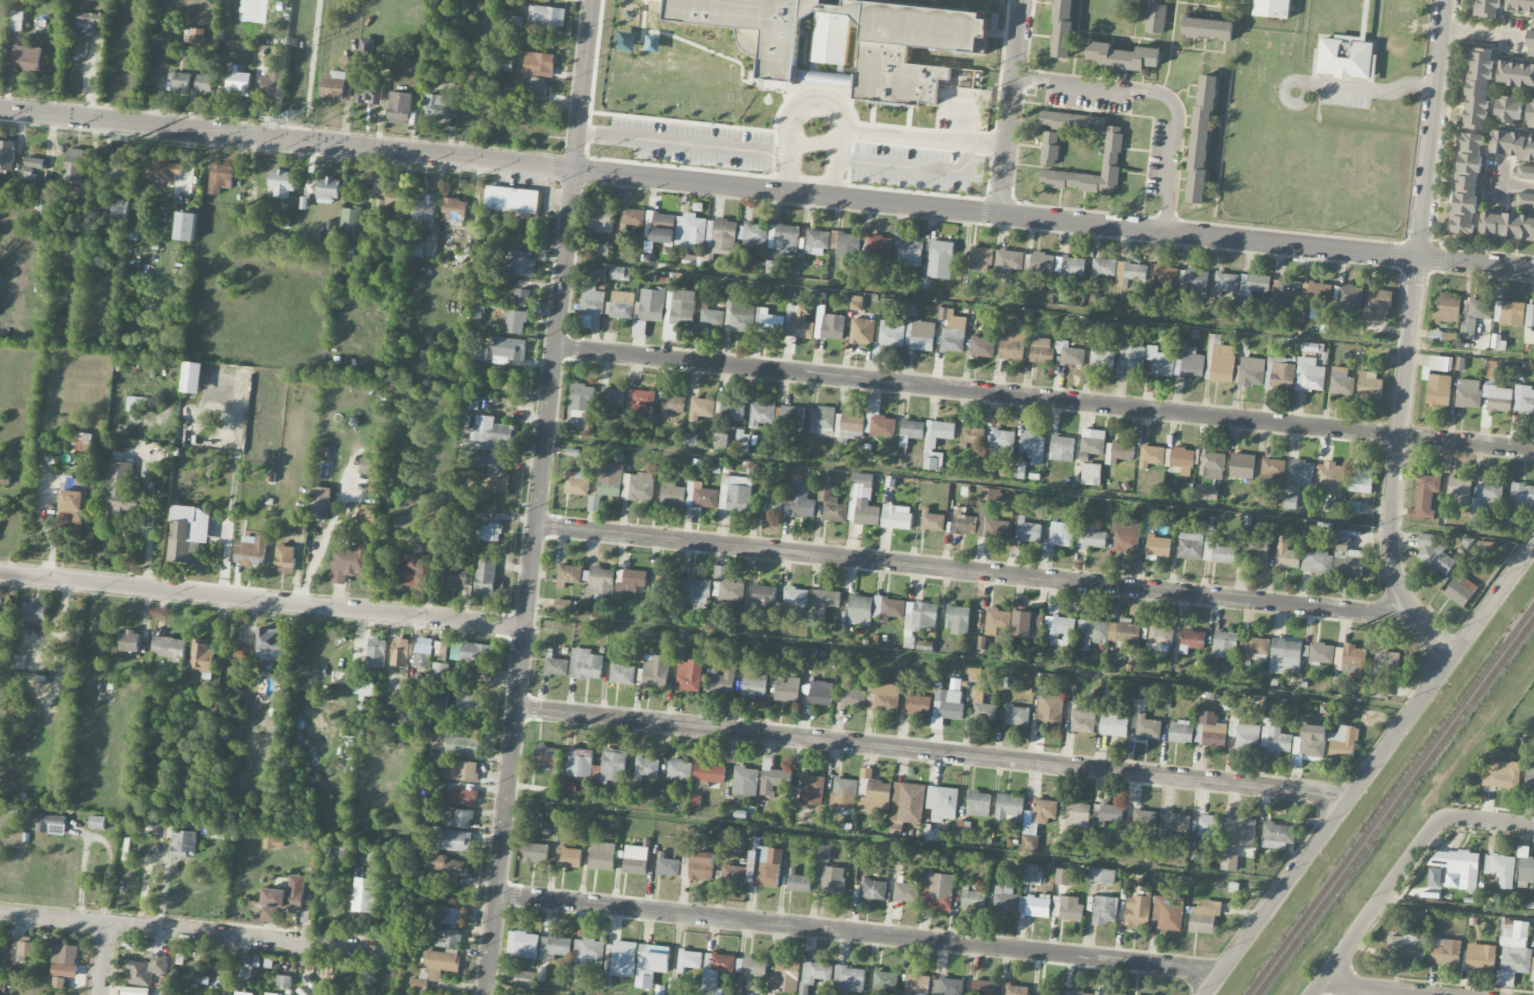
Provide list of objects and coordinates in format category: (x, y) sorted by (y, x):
building: (1520, 5)
building: (1273, 8)
building: (1488, 8)
building: (547, 16)
building: (1154, 16)
building: (91, 19)
building: (17, 20)
building: (1207, 28)
building: (1063, 29)
road: (1477, 32)
building: (194, 35)
building: (1531, 40)
building: (844, 42)
building: (80, 43)
road: (1171, 47)
building: (1121, 56)
building: (27, 58)
building: (1345, 58)
building: (505, 63)
building: (539, 64)
building: (1516, 74)
building: (368, 76)
building: (966, 78)
road: (1294, 79)
building: (179, 80)
building: (340, 81)
building: (238, 82)
building: (204, 83)
building: (272, 85)
building: (535, 88)
building: (1478, 88)
road: (1371, 89)
road: (1158, 93)
building: (441, 105)
road: (819, 106)
road: (1008, 106)
building: (400, 108)
building: (1507, 110)
building: (1530, 113)
power tower: (295, 115)
building: (1072, 121)
road: (888, 134)
power tower: (134, 138)
building: (1202, 139)
road: (685, 142)
road: (814, 142)
road: (971, 142)
building: (1513, 146)
building: (1050, 148)
building: (1112, 148)
building: (7, 155)
building: (75, 164)
road: (897, 165)
building: (32, 166)
building: (117, 168)
building: (162, 170)
building: (1525, 172)
building: (220, 177)
building: (282, 182)
building: (1468, 183)
road: (1532, 186)
building: (328, 189)
road: (766, 189)
building: (88, 193)
building: (43, 198)
building: (1525, 200)
building: (513, 201)
building: (392, 205)
building: (120, 208)
building: (424, 211)
building: (454, 211)
building: (633, 216)
building: (603, 219)
building: (150, 221)
building: (351, 221)
building: (186, 226)
building: (1507, 226)
building: (690, 231)
building: (754, 234)
building: (722, 235)
building: (784, 238)
building: (817, 242)
building: (848, 244)
building: (879, 246)
building: (602, 248)
building: (415, 250)
building: (347, 251)
building: (910, 253)
building: (980, 258)
building: (940, 259)
building: (1022, 261)
building: (521, 262)
building: (1073, 266)
building: (773, 267)
building: (1104, 267)
building: (620, 273)
building: (1134, 275)
building: (1166, 277)
building: (1193, 282)
building: (1225, 283)
building: (1254, 284)
building: (1288, 292)
building: (1319, 294)
building: (1347, 296)
building: (521, 297)
building: (856, 302)
building: (652, 304)
building: (622, 305)
building: (1377, 305)
road: (1411, 307)
building: (591, 308)
building: (1447, 308)
building: (477, 312)
building: (679, 313)
building: (1512, 313)
building: (711, 316)
building: (740, 316)
building: (1474, 316)
building: (515, 321)
building: (770, 322)
building: (797, 322)
building: (829, 325)
building: (1529, 325)
building: (639, 328)
building: (952, 330)
building: (862, 331)
building: (892, 332)
building: (921, 335)
building: (1441, 337)
building: (1012, 345)
building: (982, 347)
building: (510, 348)
building: (1055, 352)
road: (1471, 352)
building: (478, 354)
building: (1131, 358)
building: (1101, 359)
building: (1219, 361)
building: (1160, 362)
building: (1192, 363)
building: (1440, 363)
building: (1251, 372)
building: (1280, 374)
building: (1309, 375)
building: (193, 377)
building: (508, 378)
building: (1341, 381)
building: (1369, 384)
building: (1438, 390)
building: (1468, 393)
building: (582, 397)
building: (612, 397)
road: (1046, 397)
building: (1498, 398)
building: (1523, 399)
building: (470, 402)
building: (639, 403)
building: (673, 403)
building: (701, 408)
building: (872, 409)
building: (730, 410)
building: (762, 414)
building: (793, 416)
building: (823, 420)
building: (882, 426)
building: (852, 427)
building: (911, 431)
building: (490, 435)
building: (972, 436)
building: (690, 438)
building: (720, 440)
building: (749, 441)
building: (83, 442)
building: (1094, 442)
building: (936, 443)
building: (1002, 443)
building: (1033, 446)
building: (1062, 448)
building: (1119, 452)
building: (1151, 455)
building: (1182, 460)
building: (1210, 464)
building: (369, 465)
building: (1242, 465)
building: (491, 469)
building: (1019, 469)
building: (1273, 469)
building: (1003, 470)
building: (1302, 473)
building: (1091, 474)
building: (1329, 479)
building: (1360, 480)
building: (577, 482)
building: (607, 484)
building: (638, 486)
road: (1041, 487)
building: (1459, 490)
building: (121, 493)
building: (672, 493)
building: (735, 493)
building: (1206, 493)
building: (991, 494)
building: (701, 495)
building: (1488, 496)
road: (541, 497)
building: (1425, 497)
building: (1522, 497)
building: (73, 500)
building: (802, 500)
building: (831, 501)
building: (862, 501)
building: (1290, 502)
building: (320, 503)
building: (771, 505)
building: (1355, 507)
building: (367, 515)
building: (896, 517)
building: (932, 520)
road: (148, 522)
building: (964, 524)
building: (991, 525)
building: (299, 526)
road: (229, 527)
building: (1027, 530)
building: (487, 532)
building: (188, 533)
building: (1062, 534)
building: (1126, 534)
road: (326, 536)
building: (1090, 536)
building: (1190, 545)
building: (1158, 547)
building: (1487, 548)
building: (250, 550)
building: (1258, 552)
building: (1222, 553)
building: (1432, 553)
building: (1348, 556)
building: (1287, 557)
building: (285, 559)
building: (1316, 562)
building: (348, 563)
building: (413, 570)
building: (569, 574)
building: (455, 575)
road: (1006, 575)
building: (485, 576)
building: (602, 579)
building: (630, 580)
building: (661, 583)
building: (727, 585)
building: (698, 590)
building: (1460, 590)
building: (763, 599)
building: (795, 600)
road: (263, 601)
building: (562, 605)
building: (821, 605)
building: (889, 607)
building: (35, 610)
building: (860, 610)
building: (920, 616)
building: (957, 619)
building: (996, 621)
building: (1027, 624)
building: (1061, 630)
building: (1093, 631)
building: (1127, 631)
building: (1160, 639)
building: (1191, 640)
building: (130, 641)
building: (981, 642)
building: (271, 644)
building: (1225, 644)
building: (925, 645)
building: (170, 647)
building: (715, 647)
building: (1255, 648)
building: (441, 650)
building: (376, 652)
building: (400, 652)
building: (239, 653)
building: (476, 653)
building: (1322, 653)
building: (423, 655)
building: (1285, 655)
building: (201, 656)
road: (971, 659)
building: (1354, 660)
building: (17, 662)
building: (1387, 663)
building: (585, 664)
building: (557, 666)
building: (439, 670)
building: (656, 671)
building: (975, 673)
building: (622, 674)
building: (689, 675)
building: (722, 679)
building: (754, 682)
building: (363, 687)
building: (1380, 688)
building: (787, 690)
building: (820, 693)
building: (852, 696)
building: (882, 697)
building: (473, 702)
building: (917, 703)
building: (16, 704)
building: (947, 704)
building: (983, 708)
building: (1050, 711)
building: (1017, 715)
road: (1499, 717)
building: (1083, 720)
building: (1114, 721)
building: (1147, 727)
building: (1244, 728)
building: (1210, 730)
building: (1181, 731)
building: (1275, 737)
building: (1343, 743)
building: (463, 745)
road: (933, 753)
building: (580, 762)
building: (614, 765)
building: (646, 767)
building: (458, 770)
building: (679, 770)
road: (1367, 770)
building: (710, 773)
building: (1501, 774)
building: (745, 781)
building: (1529, 781)
building: (777, 783)
building: (566, 785)
building: (812, 789)
building: (845, 793)
building: (459, 796)
railway: (1389, 799)
building: (695, 801)
building: (942, 802)
building: (978, 803)
building: (906, 805)
railway: (1395, 806)
building: (1009, 808)
building: (1044, 811)
building: (1108, 812)
building: (1077, 815)
building: (461, 818)
building: (535, 818)
road: (1488, 820)
building: (1144, 821)
building: (97, 822)
building: (49, 823)
building: (1174, 823)
building: (1210, 825)
building: (932, 833)
building: (691, 835)
building: (1278, 835)
road: (96, 837)
building: (1236, 837)
building: (178, 839)
building: (728, 839)
building: (453, 840)
building: (274, 842)
road: (897, 842)
building: (1030, 843)
building: (535, 851)
building: (823, 855)
building: (602, 856)
building: (898, 856)
building: (569, 857)
building: (636, 859)
building: (763, 864)
building: (667, 865)
building: (701, 866)
building: (449, 867)
building: (1456, 868)
building: (1501, 869)
building: (1525, 870)
building: (1031, 874)
building: (734, 875)
building: (1102, 875)
building: (1003, 876)
building: (1062, 876)
building: (833, 879)
building: (801, 883)
building: (874, 889)
building: (906, 891)
building: (937, 892)
building: (364, 894)
building: (1005, 899)
building: (972, 900)
building: (281, 901)
road: (1375, 905)
building: (1034, 906)
building: (1068, 907)
road: (1456, 909)
building: (1104, 910)
building: (1137, 910)
building: (1167, 913)
building: (451, 916)
building: (1204, 917)
road: (857, 933)
road: (197, 934)
building: (448, 938)
building: (523, 944)
building: (555, 947)
building: (1406, 947)
building: (21, 950)
building: (1445, 951)
building: (1514, 953)
building: (588, 954)
building: (1481, 958)
building: (621, 959)
road: (102, 960)
building: (689, 960)
building: (440, 963)
building: (64, 964)
building: (651, 964)
building: (751, 967)
building: (146, 970)
building: (1532, 970)
building: (716, 972)
building: (541, 974)
building: (814, 974)
building: (525, 978)
building: (849, 978)
building: (284, 980)
building: (884, 981)
building: (419, 984)
building: (917, 984)
building: (947, 986)
building: (983, 987)
building: (1016, 989)
road: (1377, 989)
building: (134, 991)
building: (1048, 991)
road: (507, 993)
building: (1077, 993)
building: (1109, 993)
building: (0, 994)
building: (241, 994)

